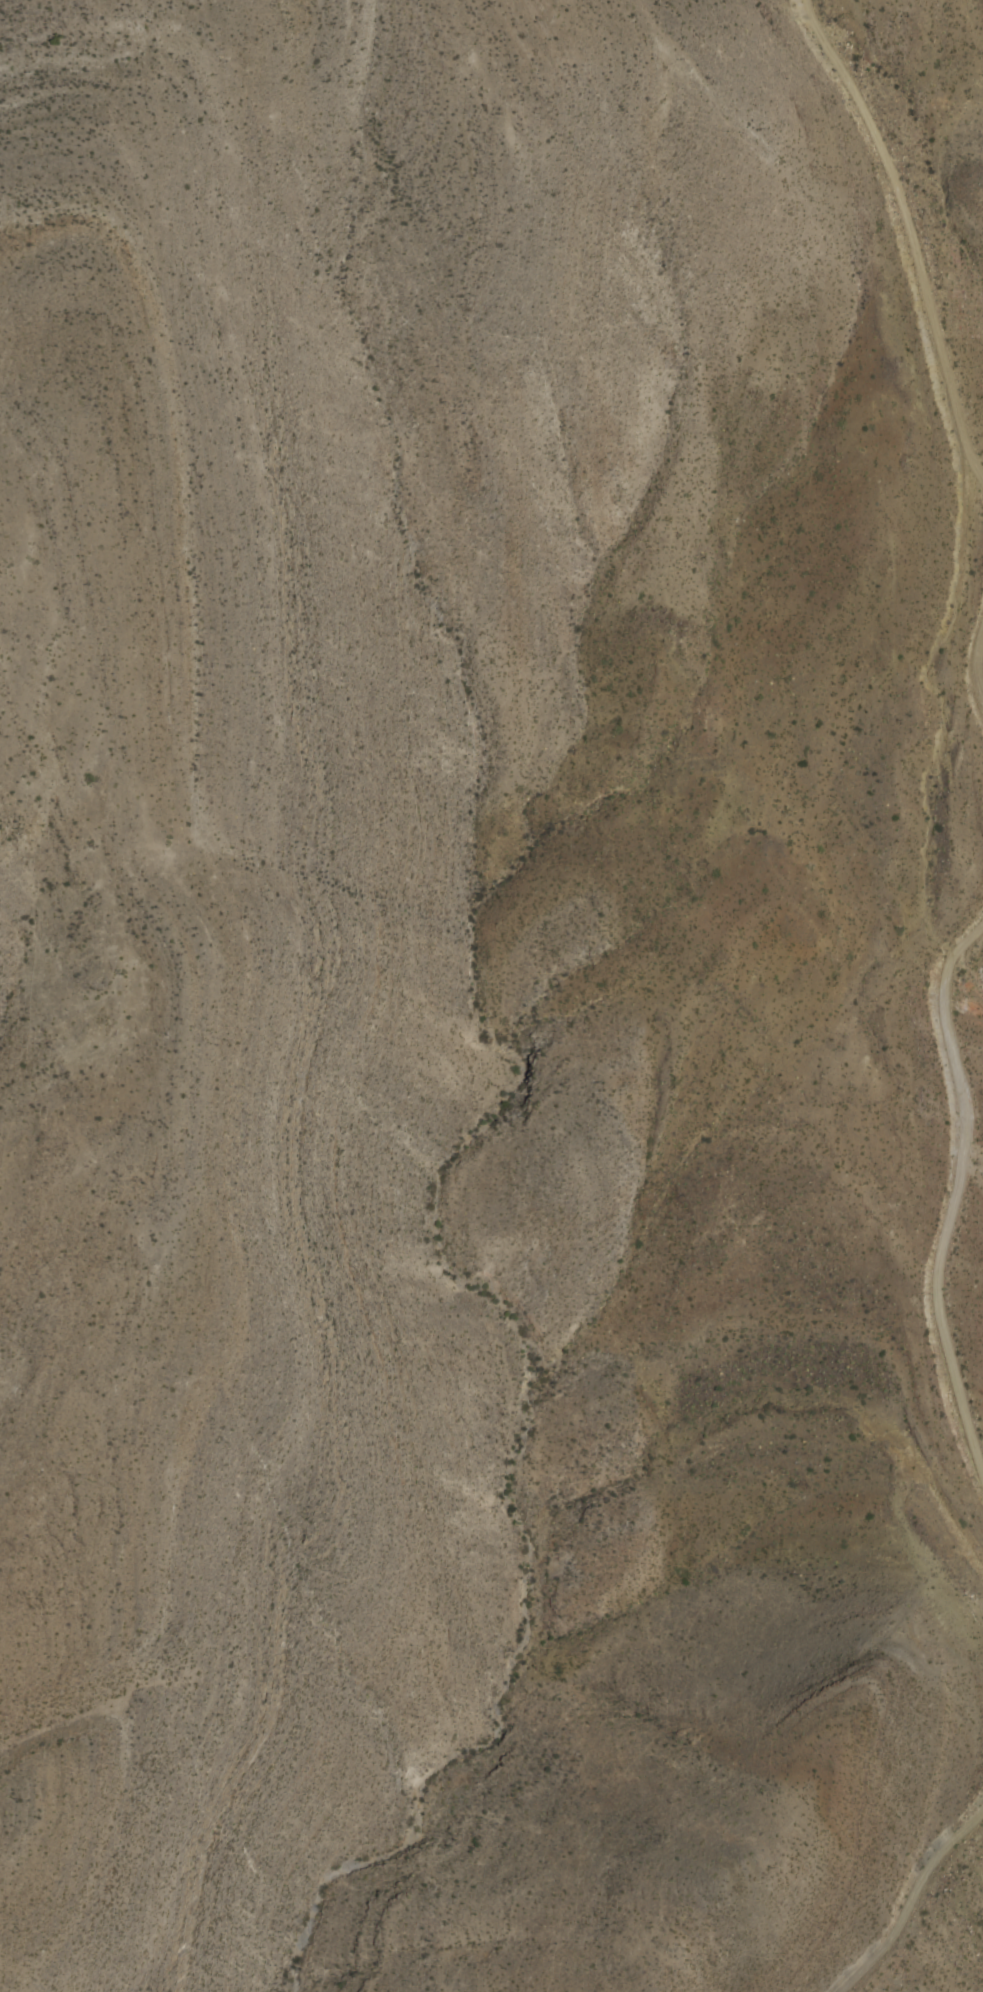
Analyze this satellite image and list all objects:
road: (955, 759)
road: (896, 1872)

